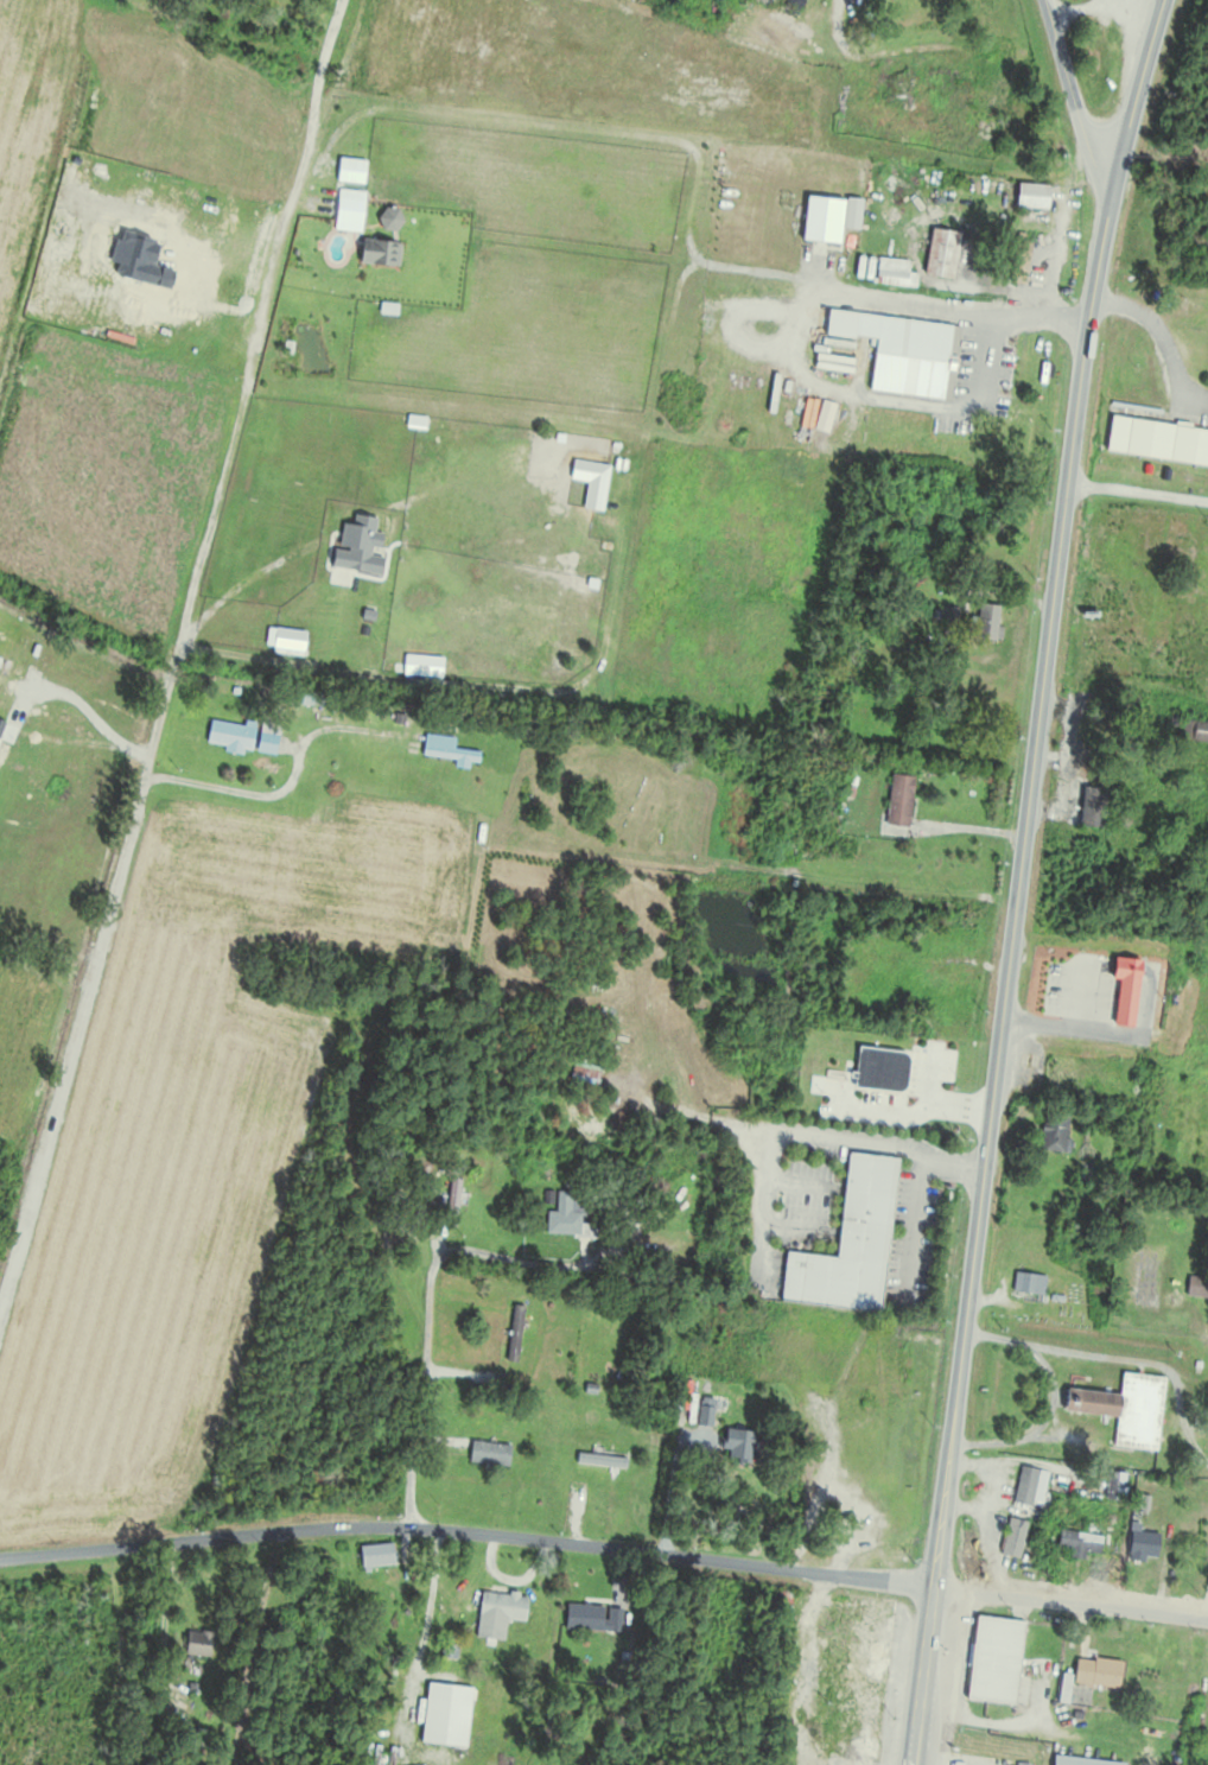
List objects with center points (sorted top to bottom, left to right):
building: (578, 30)
road: (325, 61)
building: (1029, 89)
road: (1070, 89)
road: (618, 129)
building: (1029, 196)
building: (939, 254)
building: (1016, 262)
building: (891, 274)
road: (813, 292)
building: (1203, 324)
road: (1156, 326)
building: (967, 338)
building: (905, 350)
road: (981, 360)
road: (243, 380)
building: (1156, 440)
building: (570, 483)
road: (1137, 490)
road: (239, 583)
building: (949, 615)
building: (985, 626)
road: (31, 693)
building: (1194, 732)
building: (228, 737)
building: (265, 739)
building: (446, 753)
road: (243, 793)
building: (897, 802)
building: (1089, 808)
road: (1018, 878)
building: (867, 946)
road: (91, 979)
building: (853, 983)
building: (939, 983)
building: (1121, 992)
road: (704, 1112)
building: (1051, 1135)
road: (883, 1143)
road: (800, 1181)
building: (450, 1204)
road: (764, 1211)
building: (562, 1218)
road: (911, 1224)
road: (795, 1226)
building: (847, 1243)
road: (519, 1259)
park: (1158, 1268)
building: (1028, 1282)
building: (1197, 1284)
building: (511, 1338)
road: (424, 1386)
building: (1091, 1401)
building: (1138, 1410)
building: (733, 1448)
building: (487, 1456)
building: (598, 1465)
building: (1025, 1484)
building: (1115, 1484)
road: (468, 1529)
building: (1012, 1535)
building: (1079, 1541)
building: (1143, 1542)
building: (371, 1556)
building: (787, 1601)
road: (1070, 1601)
road: (1206, 1604)
road: (427, 1608)
building: (495, 1614)
building: (589, 1619)
building: (195, 1645)
building: (449, 1651)
building: (994, 1657)
building: (860, 1669)
building: (1098, 1670)
building: (441, 1715)
building: (1082, 1760)

